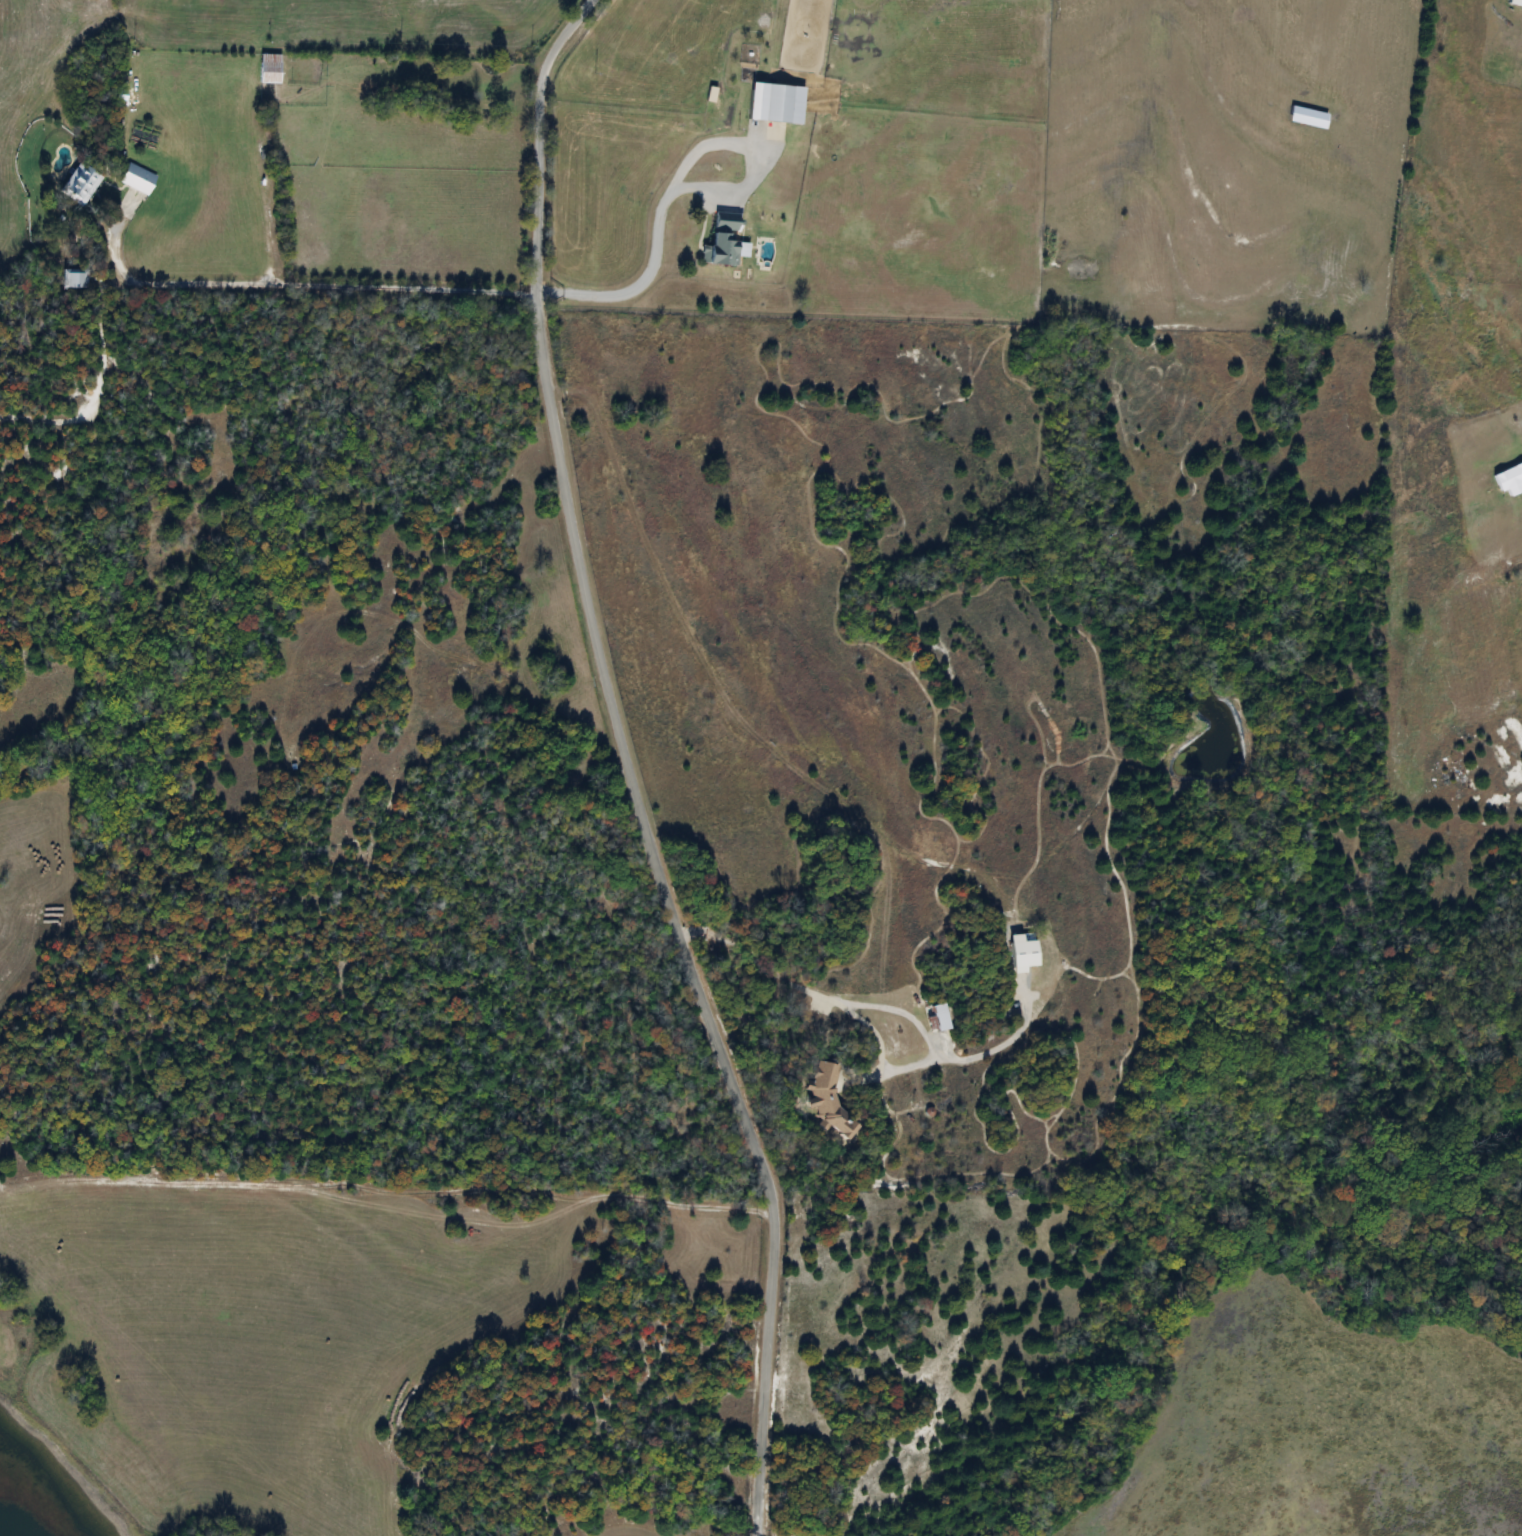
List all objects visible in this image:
building: (1515, 3)
building: (269, 69)
building: (776, 104)
road: (672, 170)
building: (137, 179)
building: (79, 184)
building: (725, 222)
building: (722, 251)
building: (71, 278)
road: (329, 291)
building: (1509, 479)
road: (625, 767)
building: (1022, 956)
road: (872, 1005)
road: (996, 1046)

